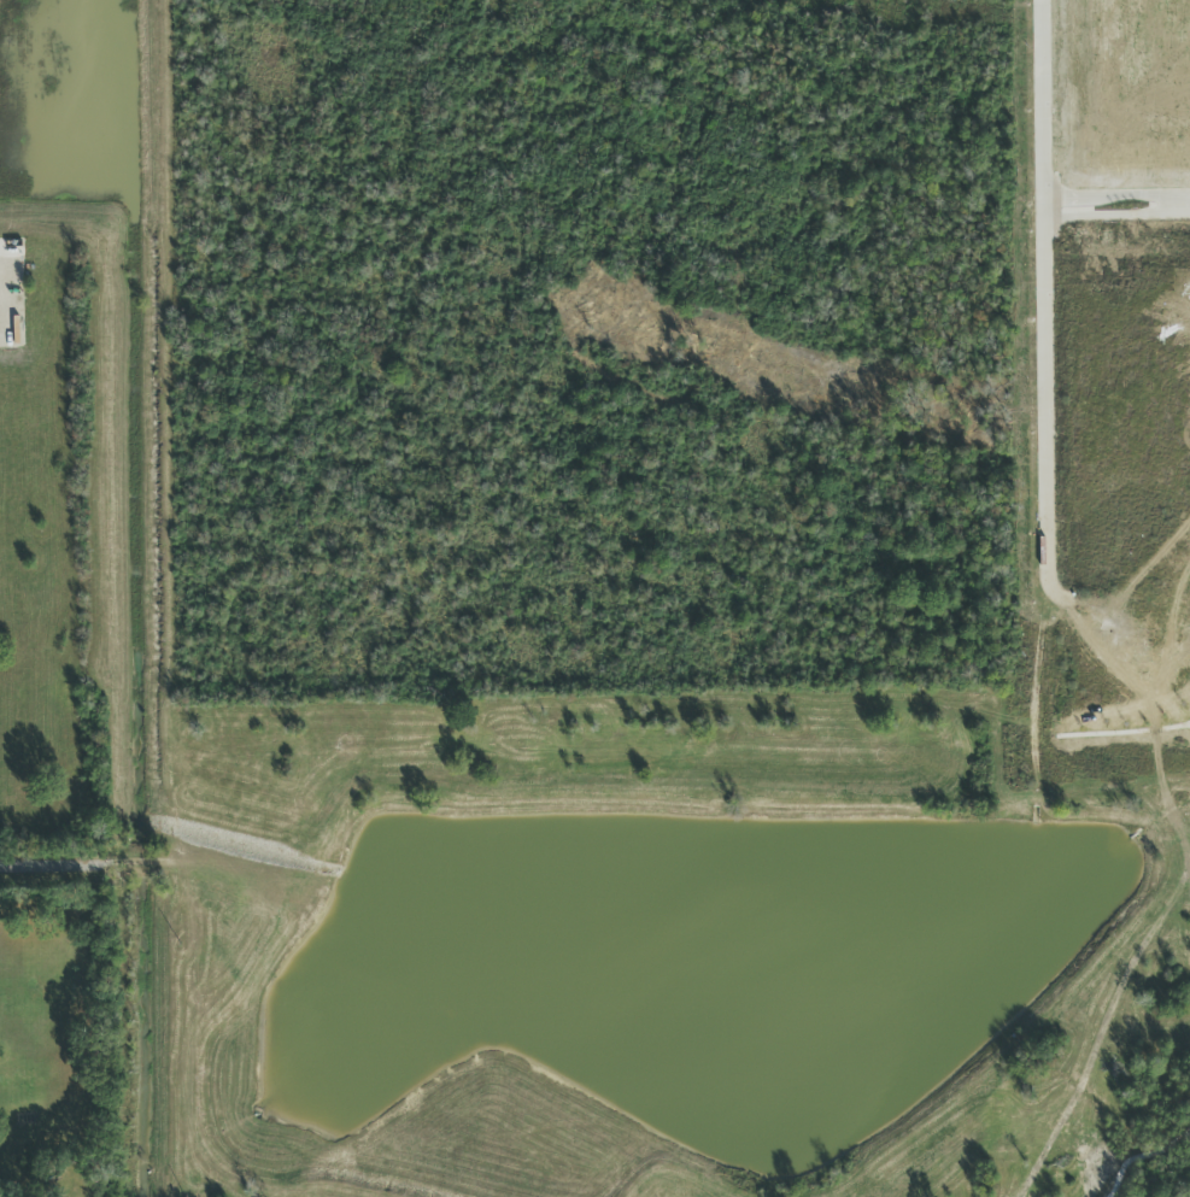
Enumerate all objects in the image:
road: (1116, 209)
road: (1044, 307)
road: (65, 863)

